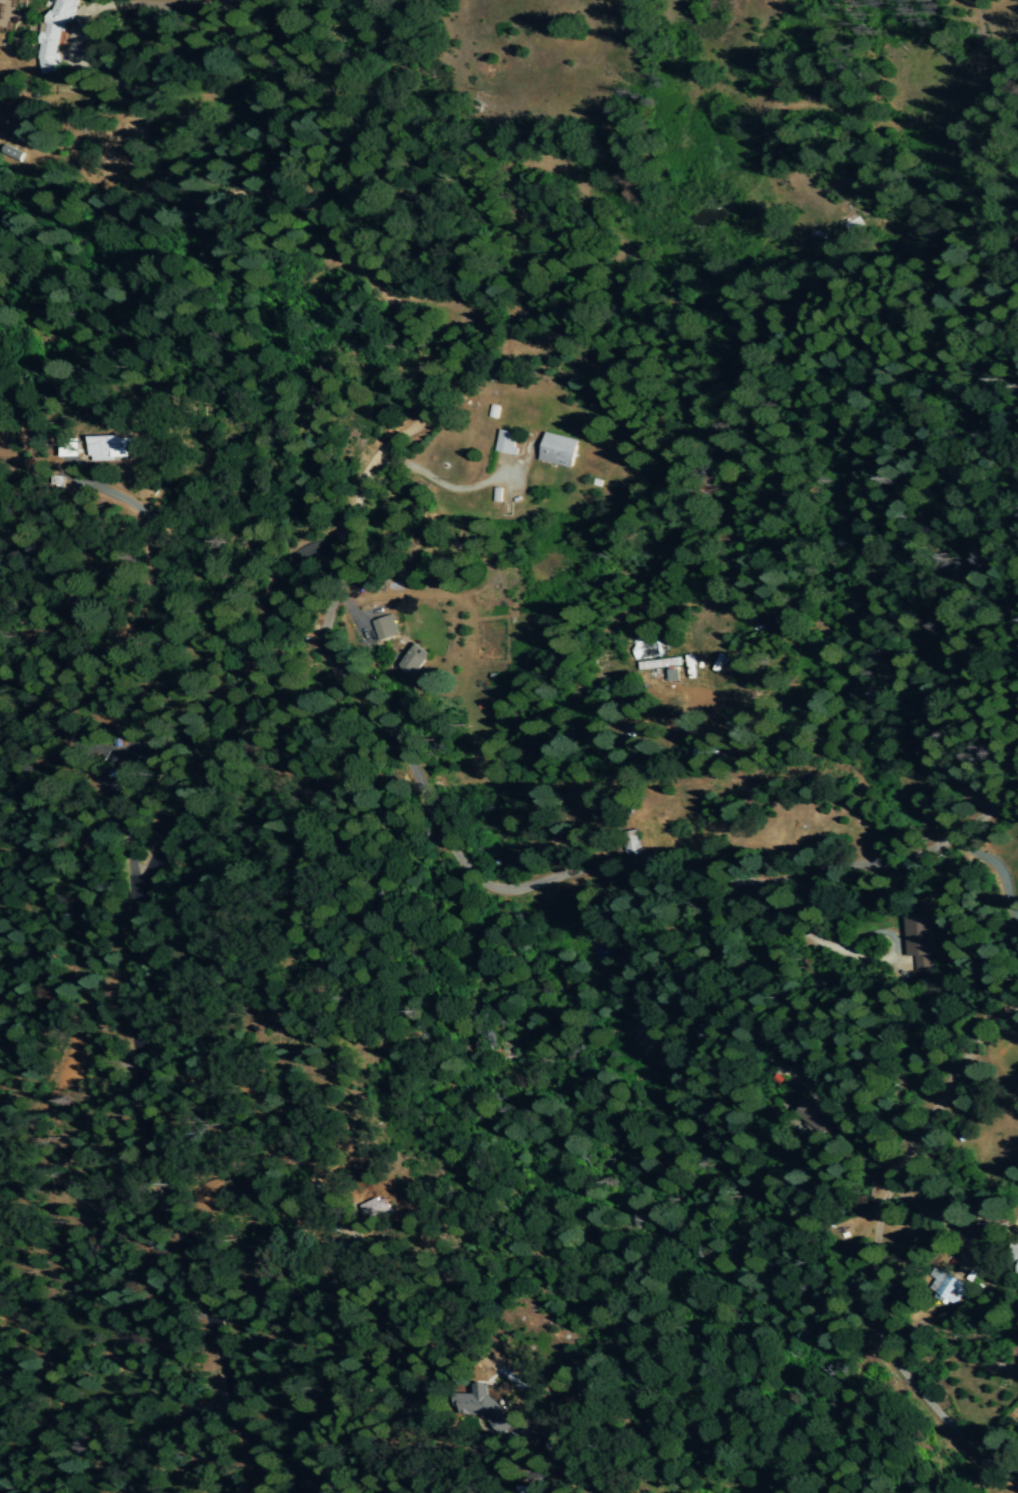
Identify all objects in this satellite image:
road: (88, 12)
building: (56, 35)
road: (75, 141)
building: (9, 155)
building: (507, 442)
building: (72, 448)
building: (116, 448)
building: (560, 451)
road: (439, 481)
road: (351, 617)
building: (385, 627)
road: (148, 633)
road: (260, 651)
building: (652, 658)
building: (409, 664)
road: (103, 774)
road: (995, 867)
road: (561, 875)
road: (791, 927)
building: (921, 941)
road: (895, 950)
building: (815, 1107)
road: (868, 1142)
road: (907, 1152)
building: (380, 1207)
building: (1017, 1273)
road: (987, 1277)
building: (947, 1286)
road: (334, 1338)
building: (480, 1399)
road: (933, 1411)
road: (536, 1439)
building: (558, 1446)
road: (573, 1472)
road: (518, 1474)

